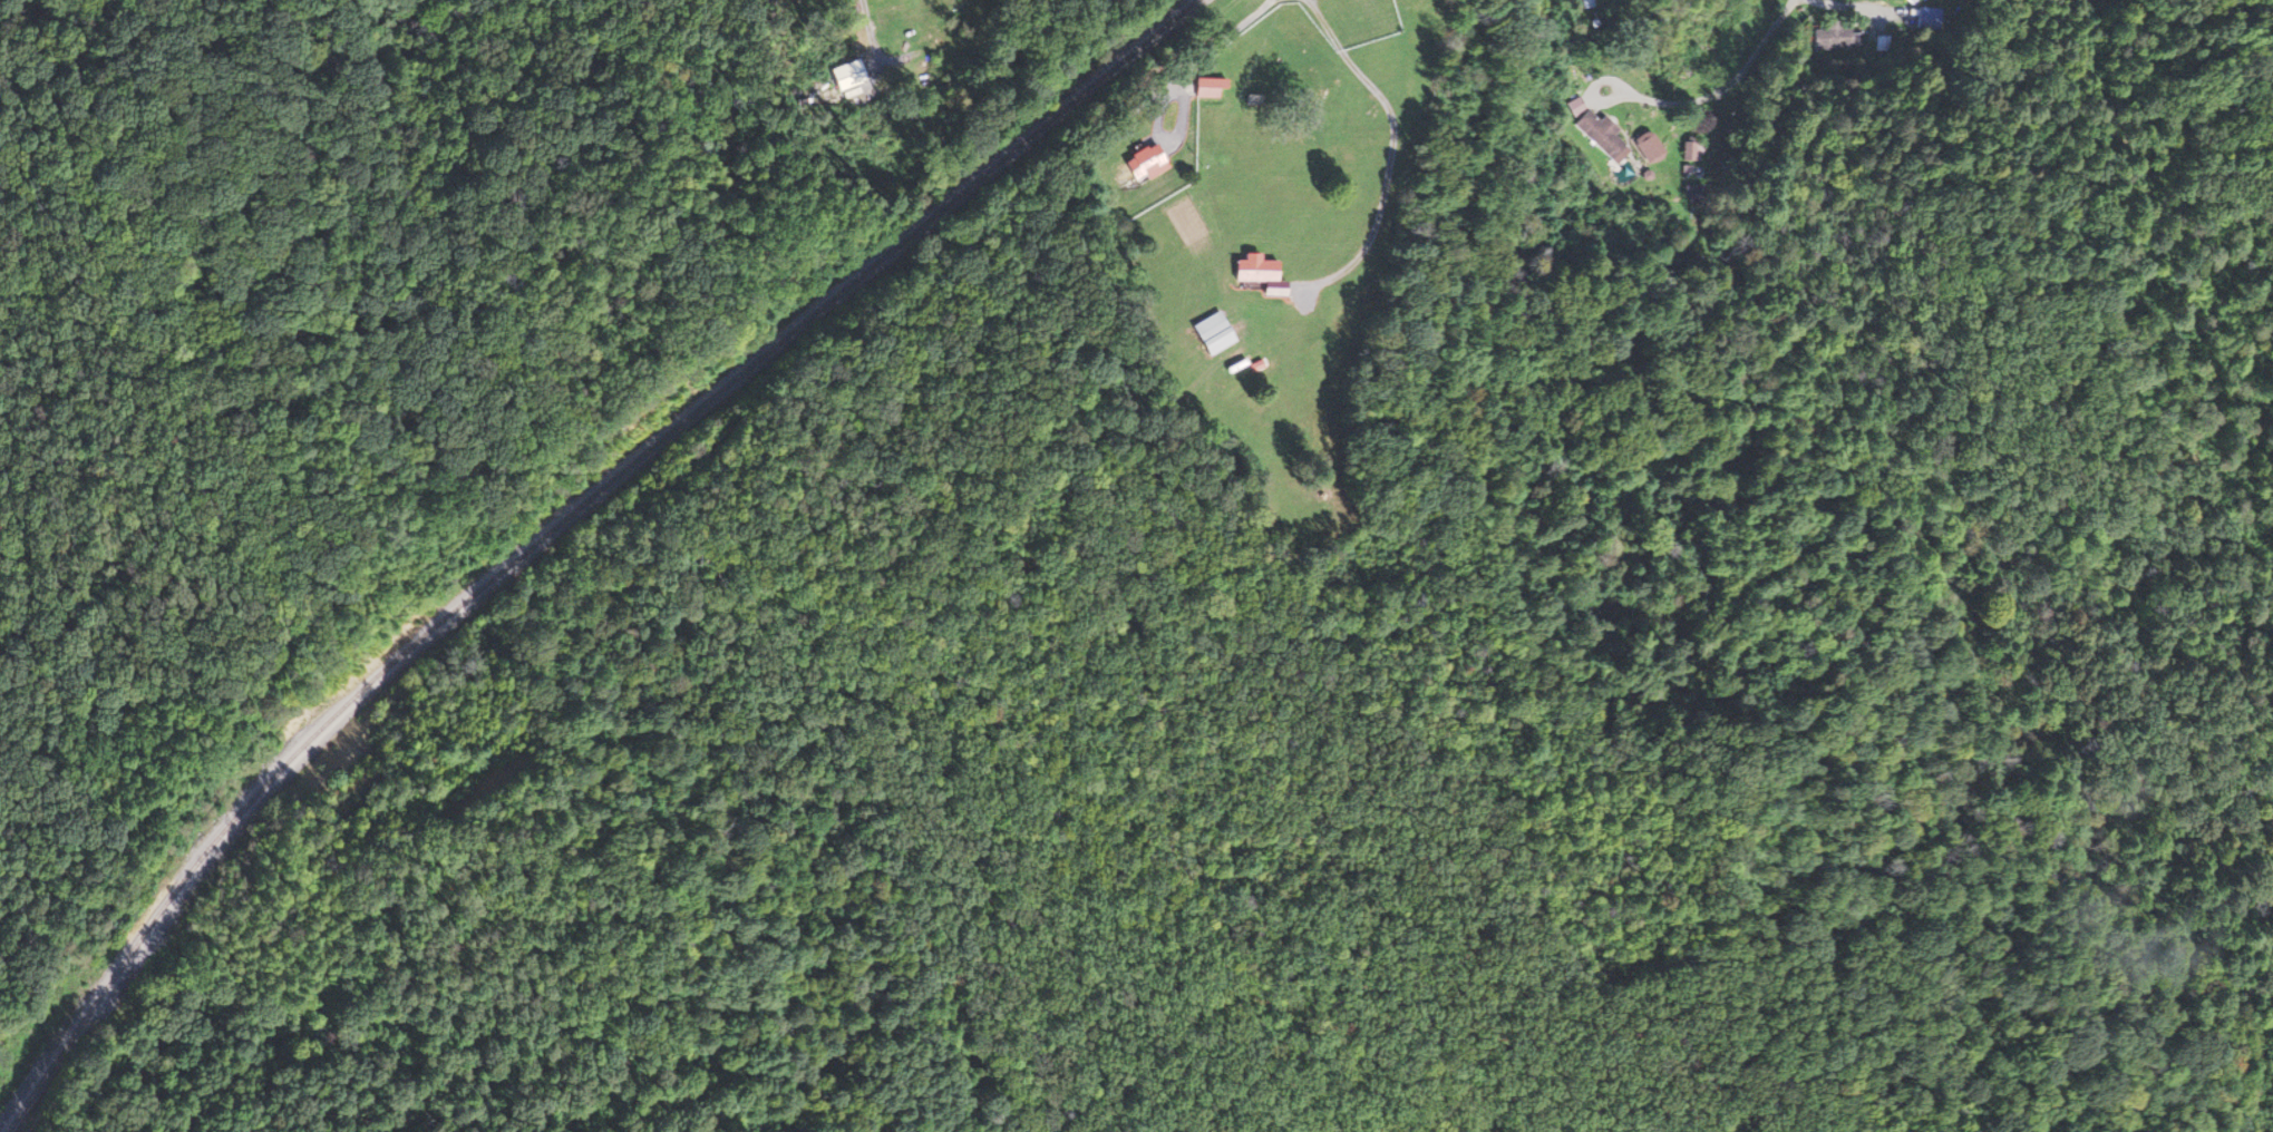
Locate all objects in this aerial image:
building: (1906, 1)
building: (1582, 3)
building: (1351, 20)
building: (1834, 37)
road: (1764, 46)
building: (1213, 87)
building: (1604, 134)
building: (1652, 147)
building: (1148, 162)
building: (1217, 333)
railway: (553, 523)

